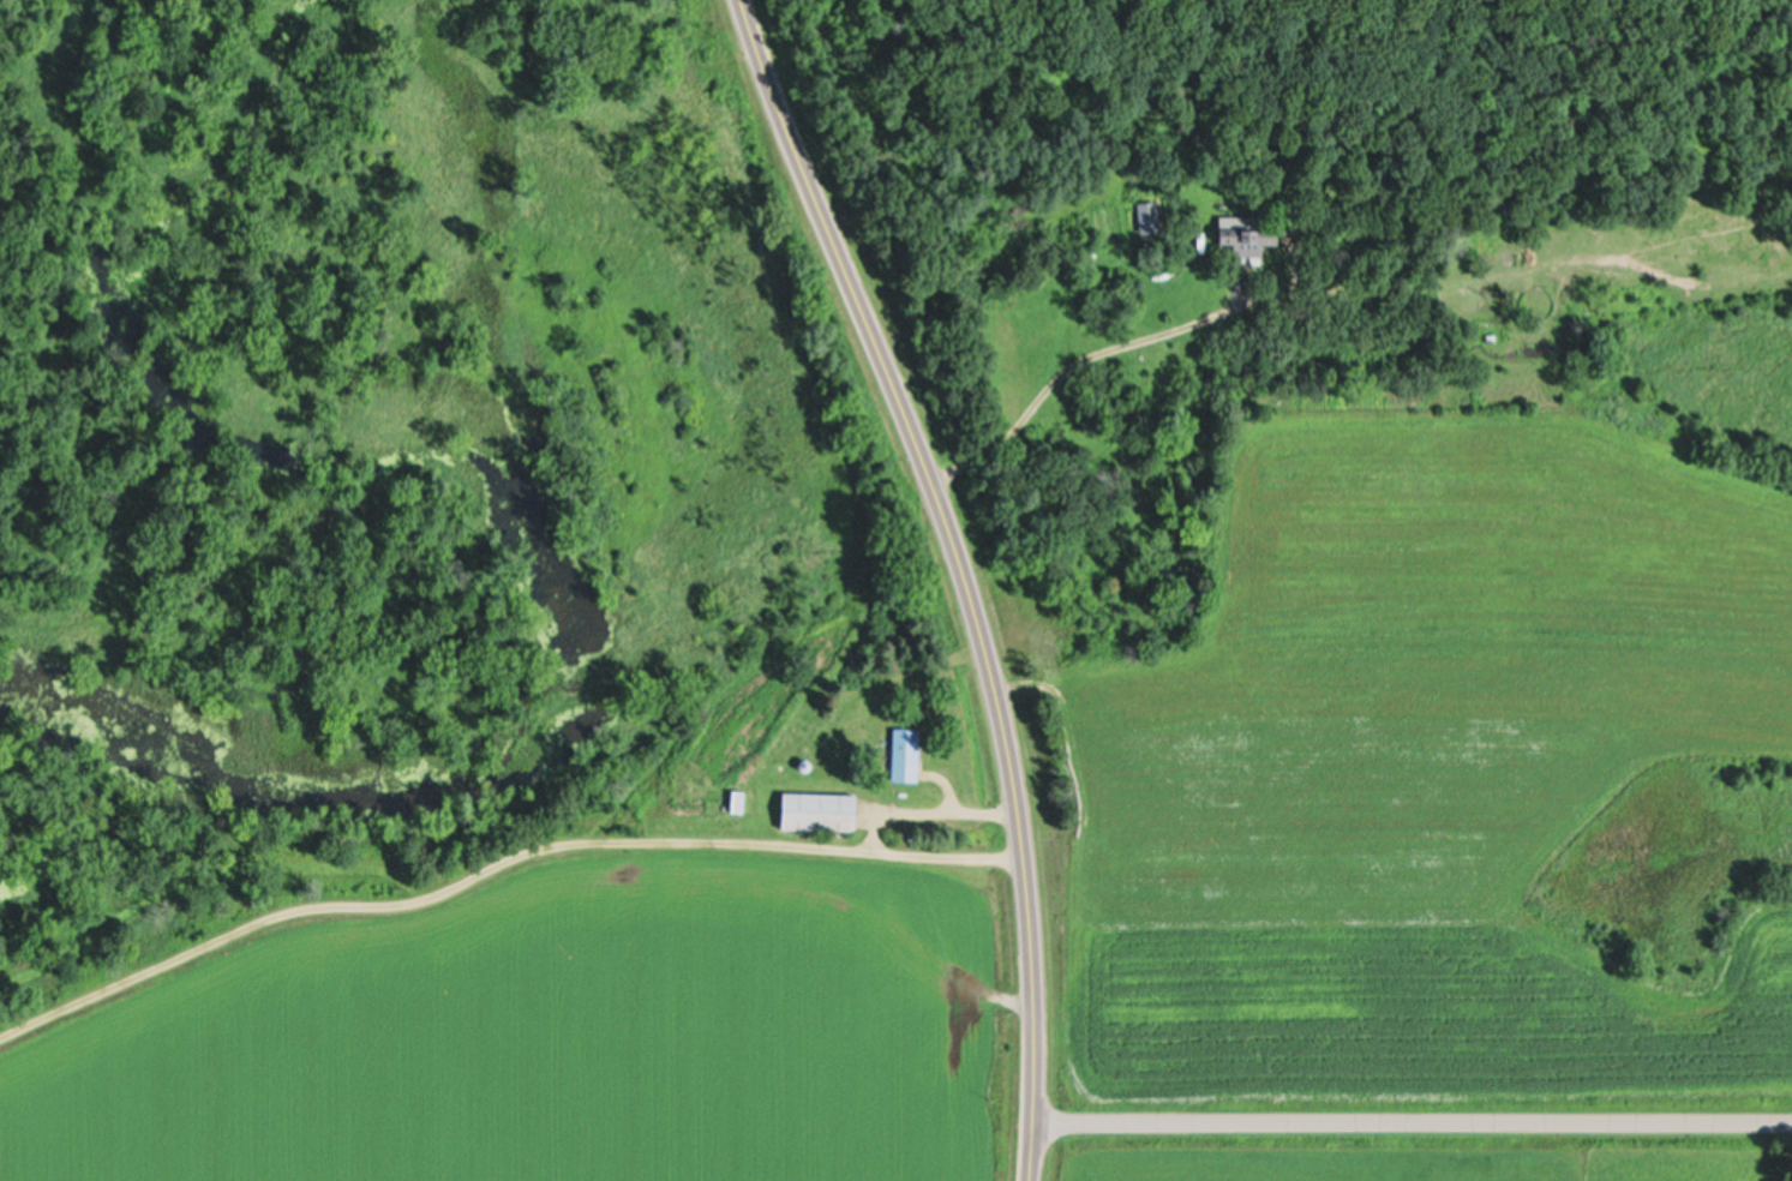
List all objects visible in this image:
building: (1240, 236)
road: (961, 572)
building: (901, 753)
building: (813, 810)
road: (497, 862)
crop: (567, 1030)
road: (1413, 1119)

